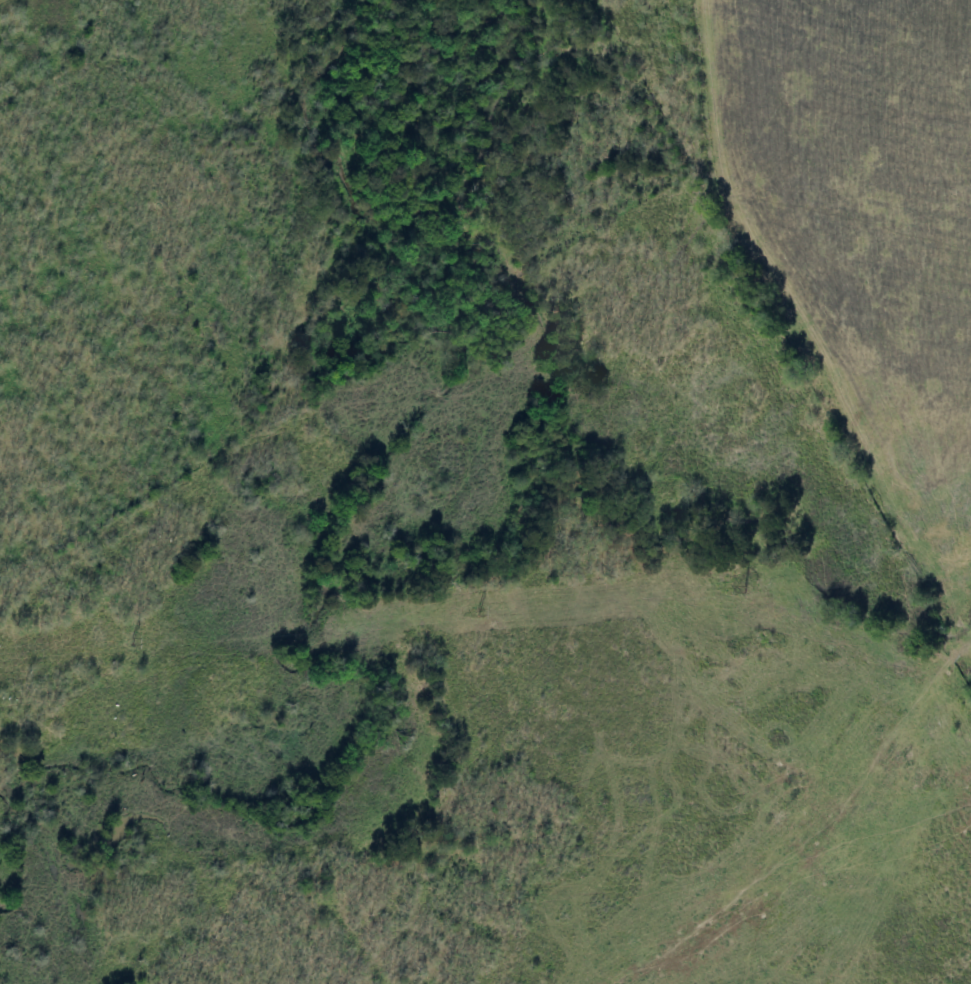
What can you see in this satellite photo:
power tower: (746, 589)
power tower: (479, 611)
power tower: (132, 639)

